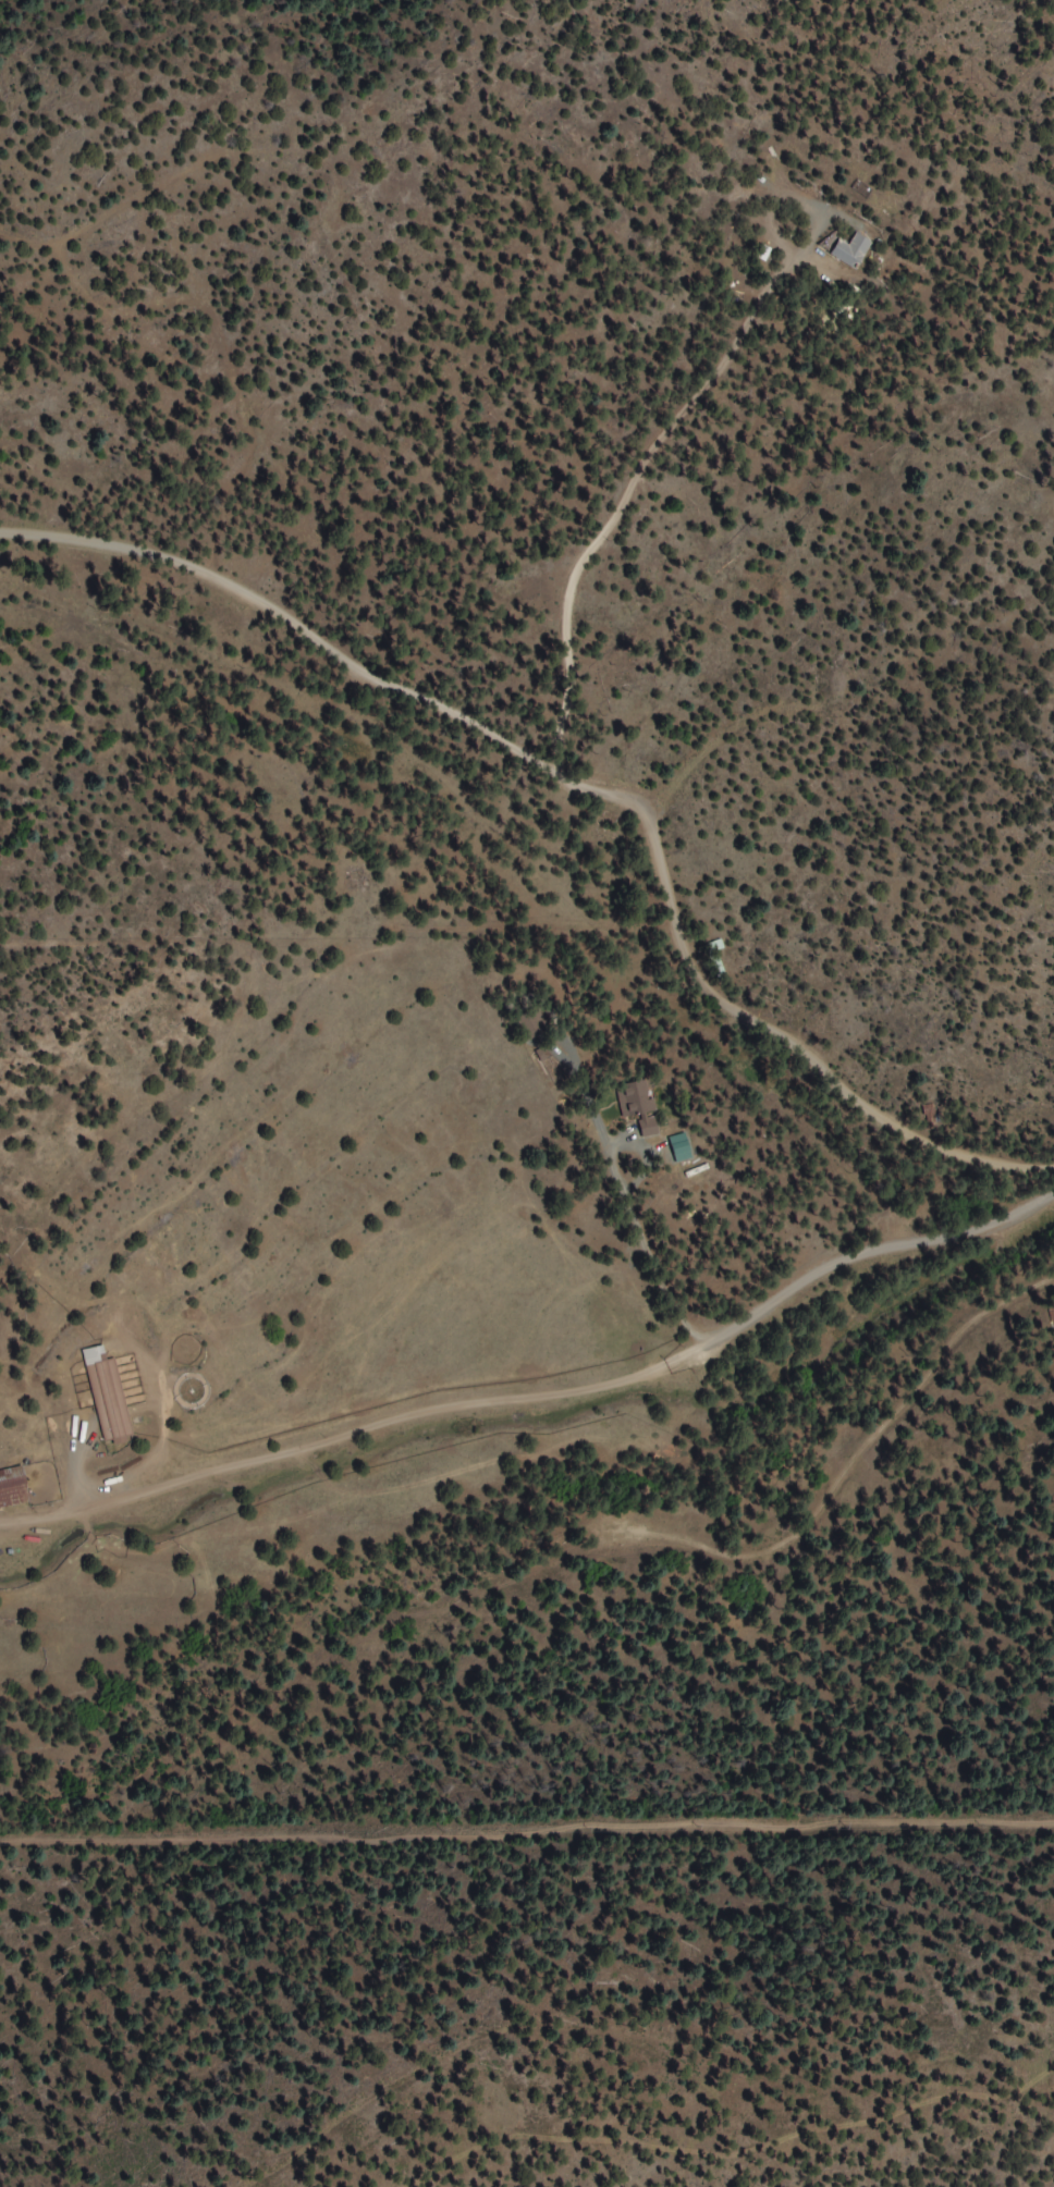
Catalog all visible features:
building: (850, 251)
road: (518, 799)
building: (535, 1023)
building: (636, 1106)
road: (530, 1366)
building: (107, 1397)
building: (12, 1488)
road: (906, 1870)

